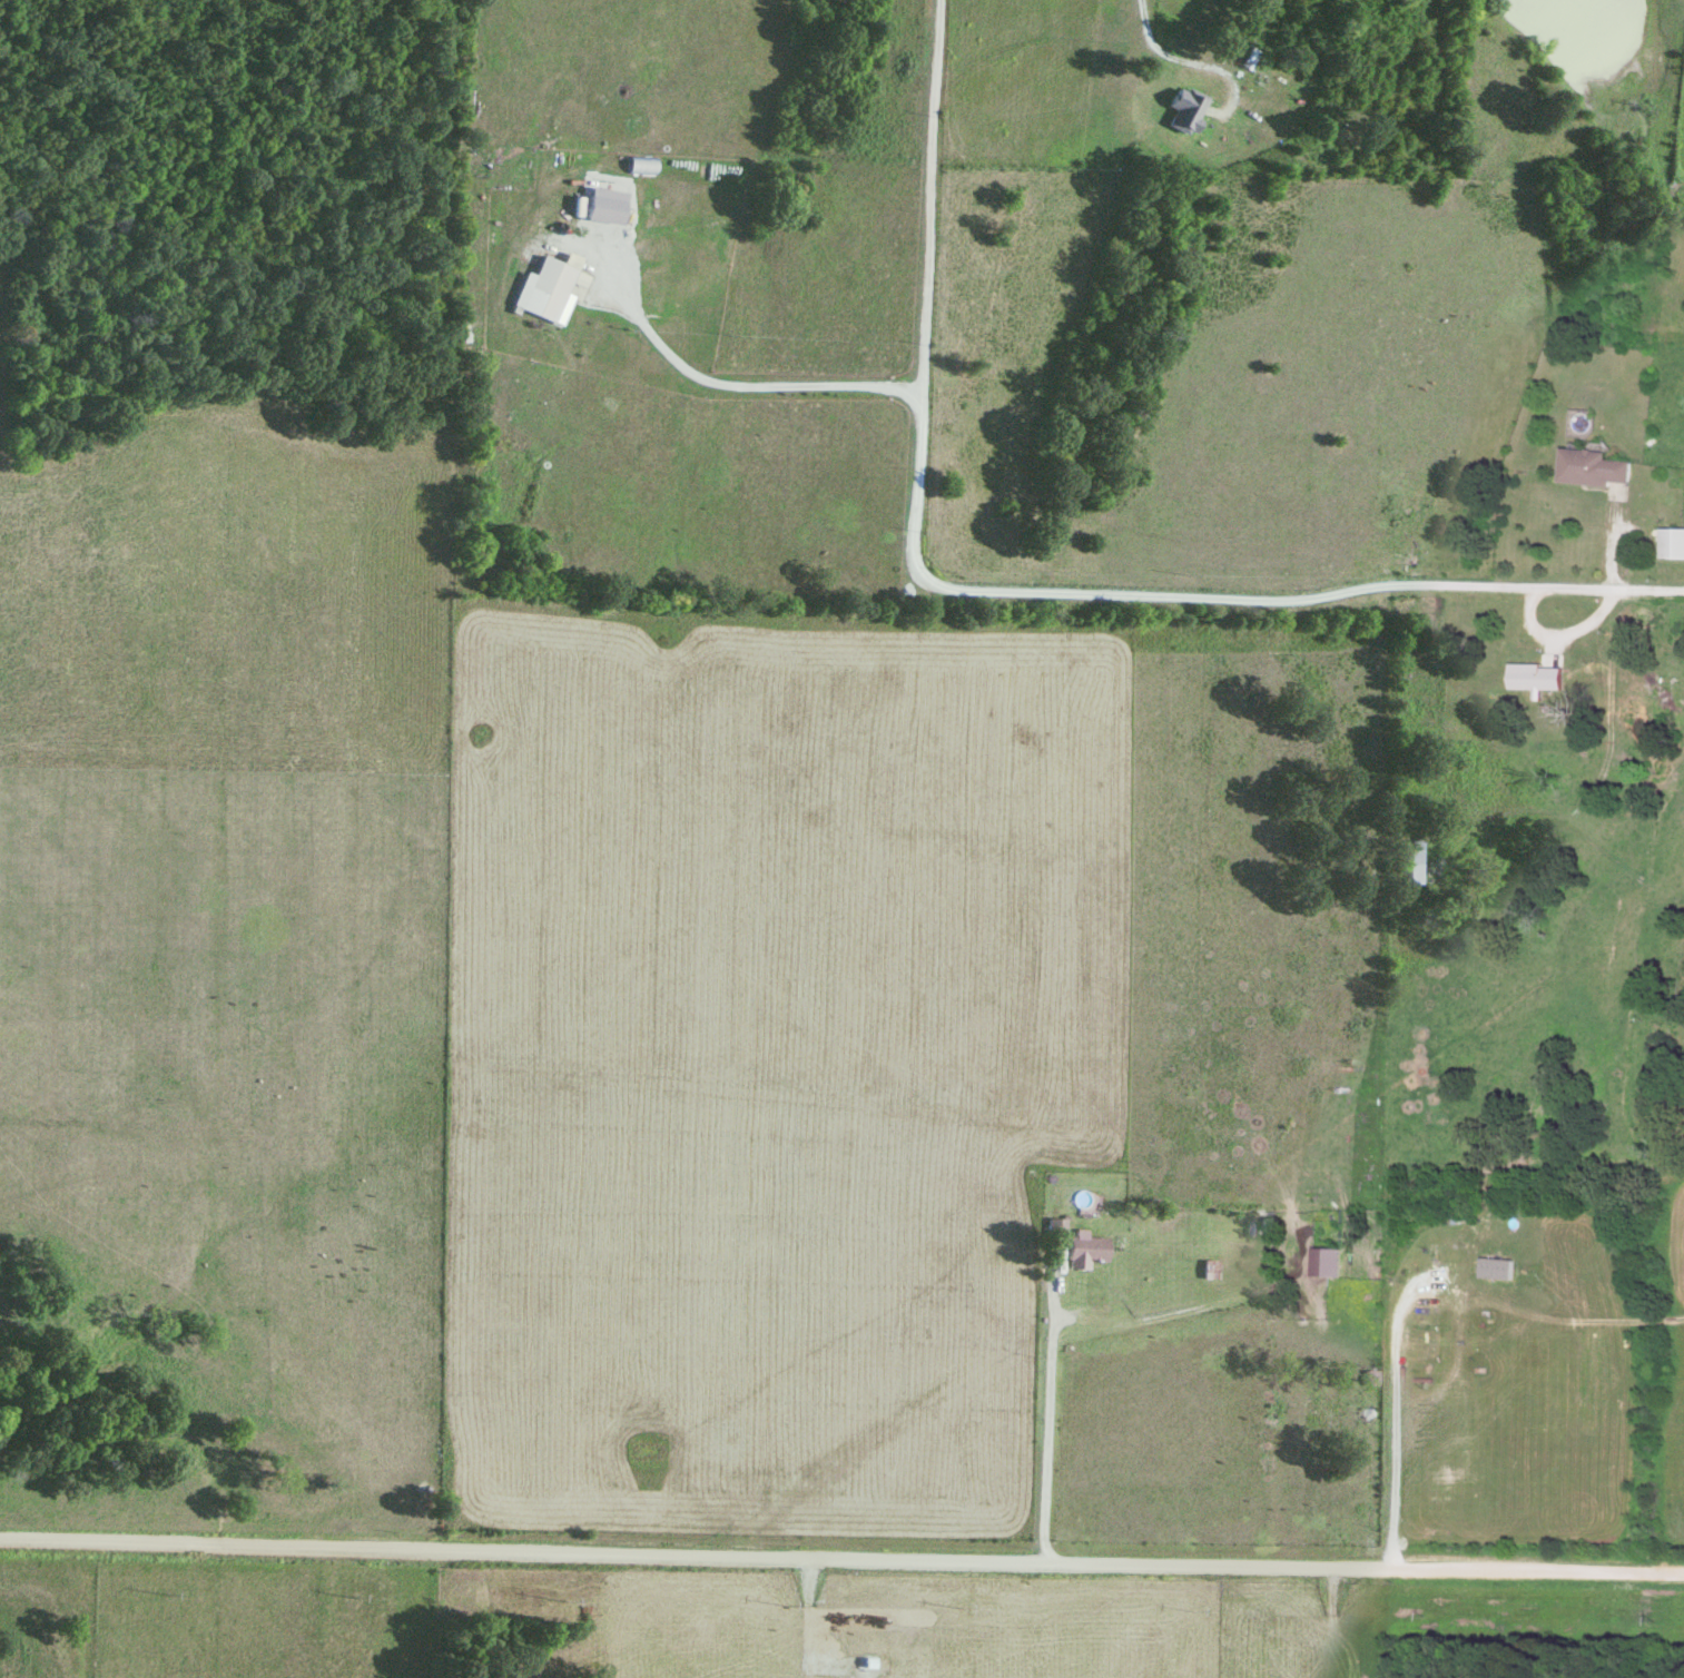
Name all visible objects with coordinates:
road: (1144, 30)
building: (1174, 109)
road: (924, 197)
building: (550, 290)
road: (715, 386)
building: (1587, 470)
road: (1611, 542)
building: (1670, 544)
road: (1208, 602)
building: (1409, 863)
building: (1080, 1251)
building: (1320, 1263)
building: (1203, 1272)
road: (1043, 1415)
road: (1395, 1423)
road: (841, 1561)

